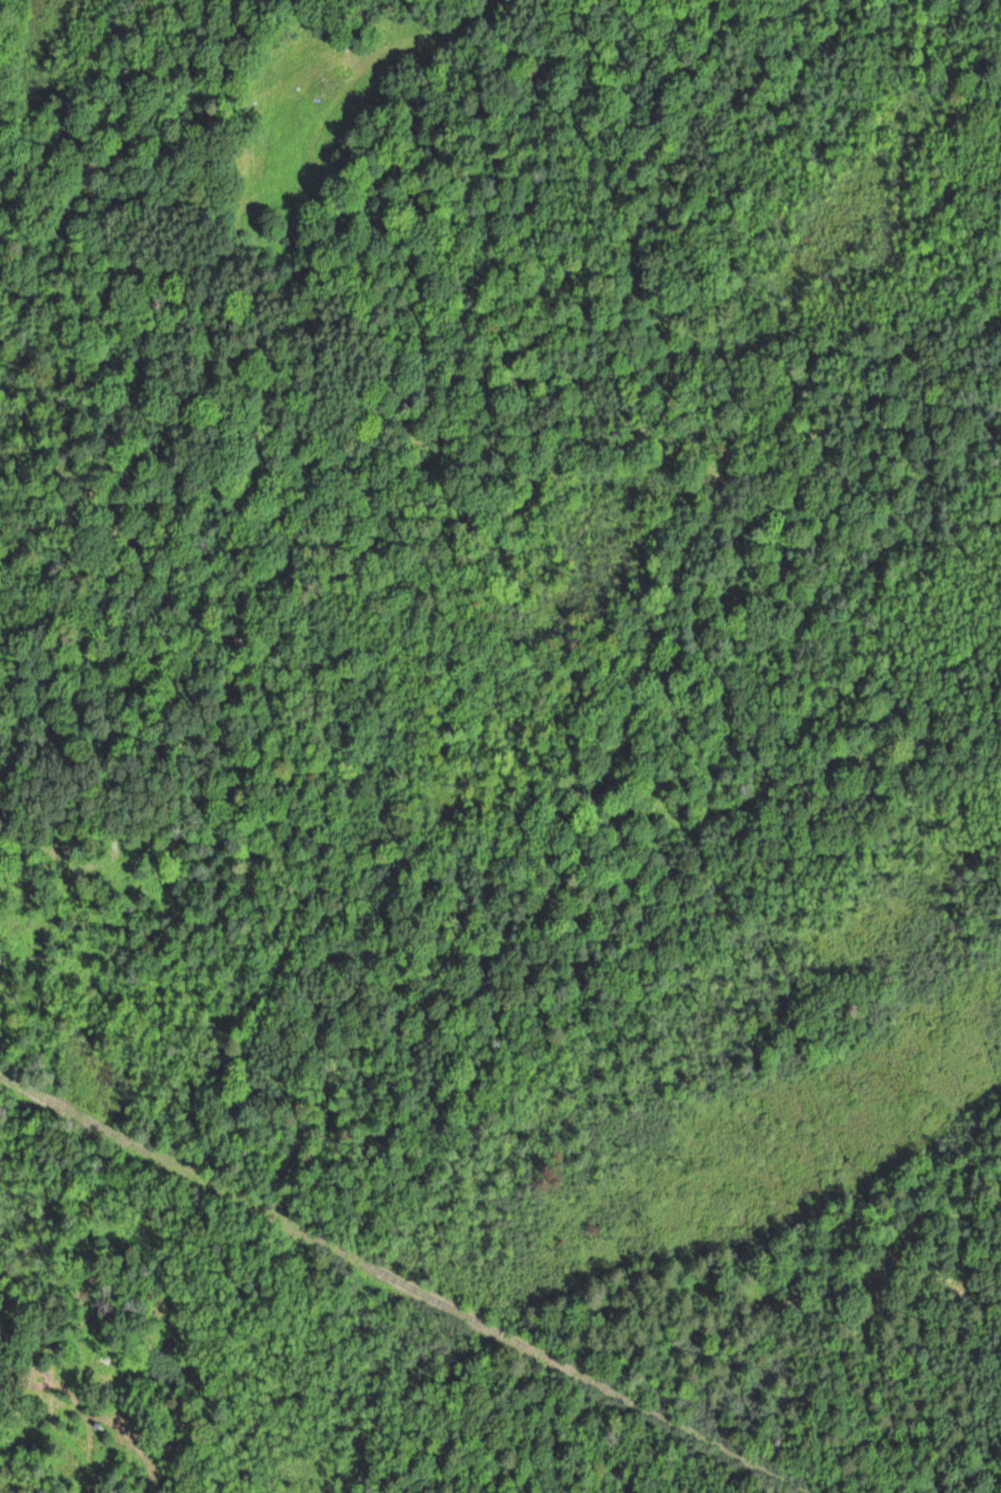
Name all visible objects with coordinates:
railway: (402, 1284)

